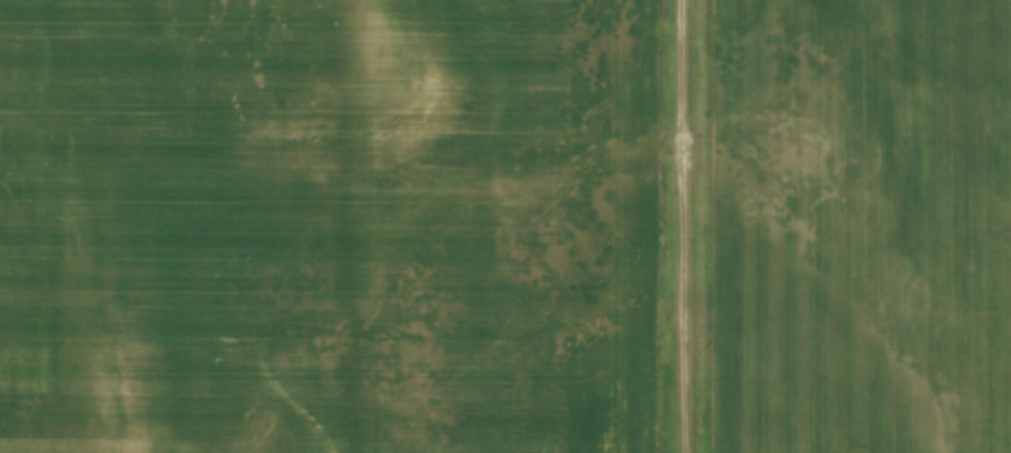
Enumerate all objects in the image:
road: (690, 226)

